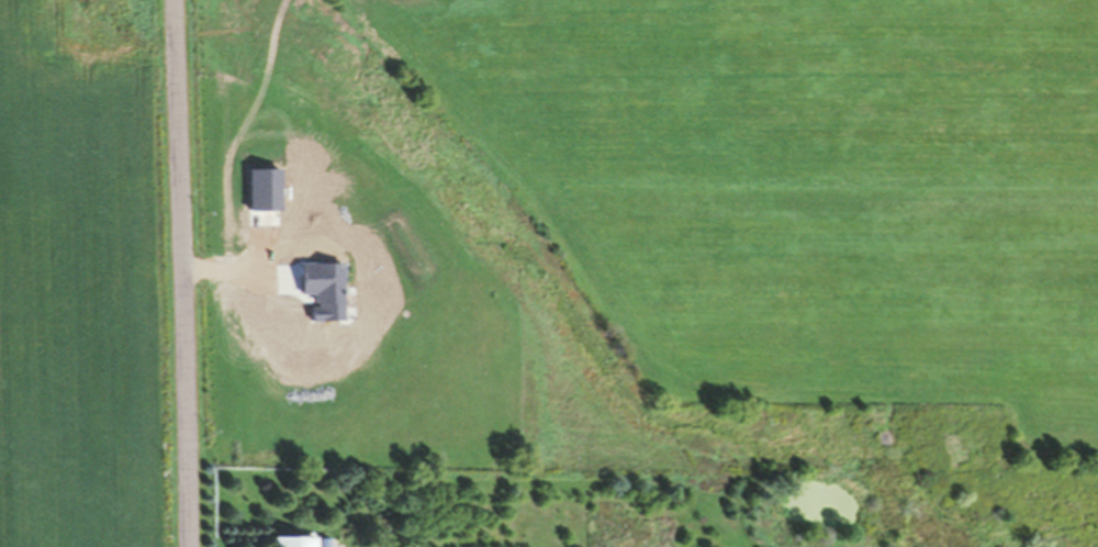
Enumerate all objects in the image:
road: (178, 273)
building: (315, 295)
building: (305, 539)

